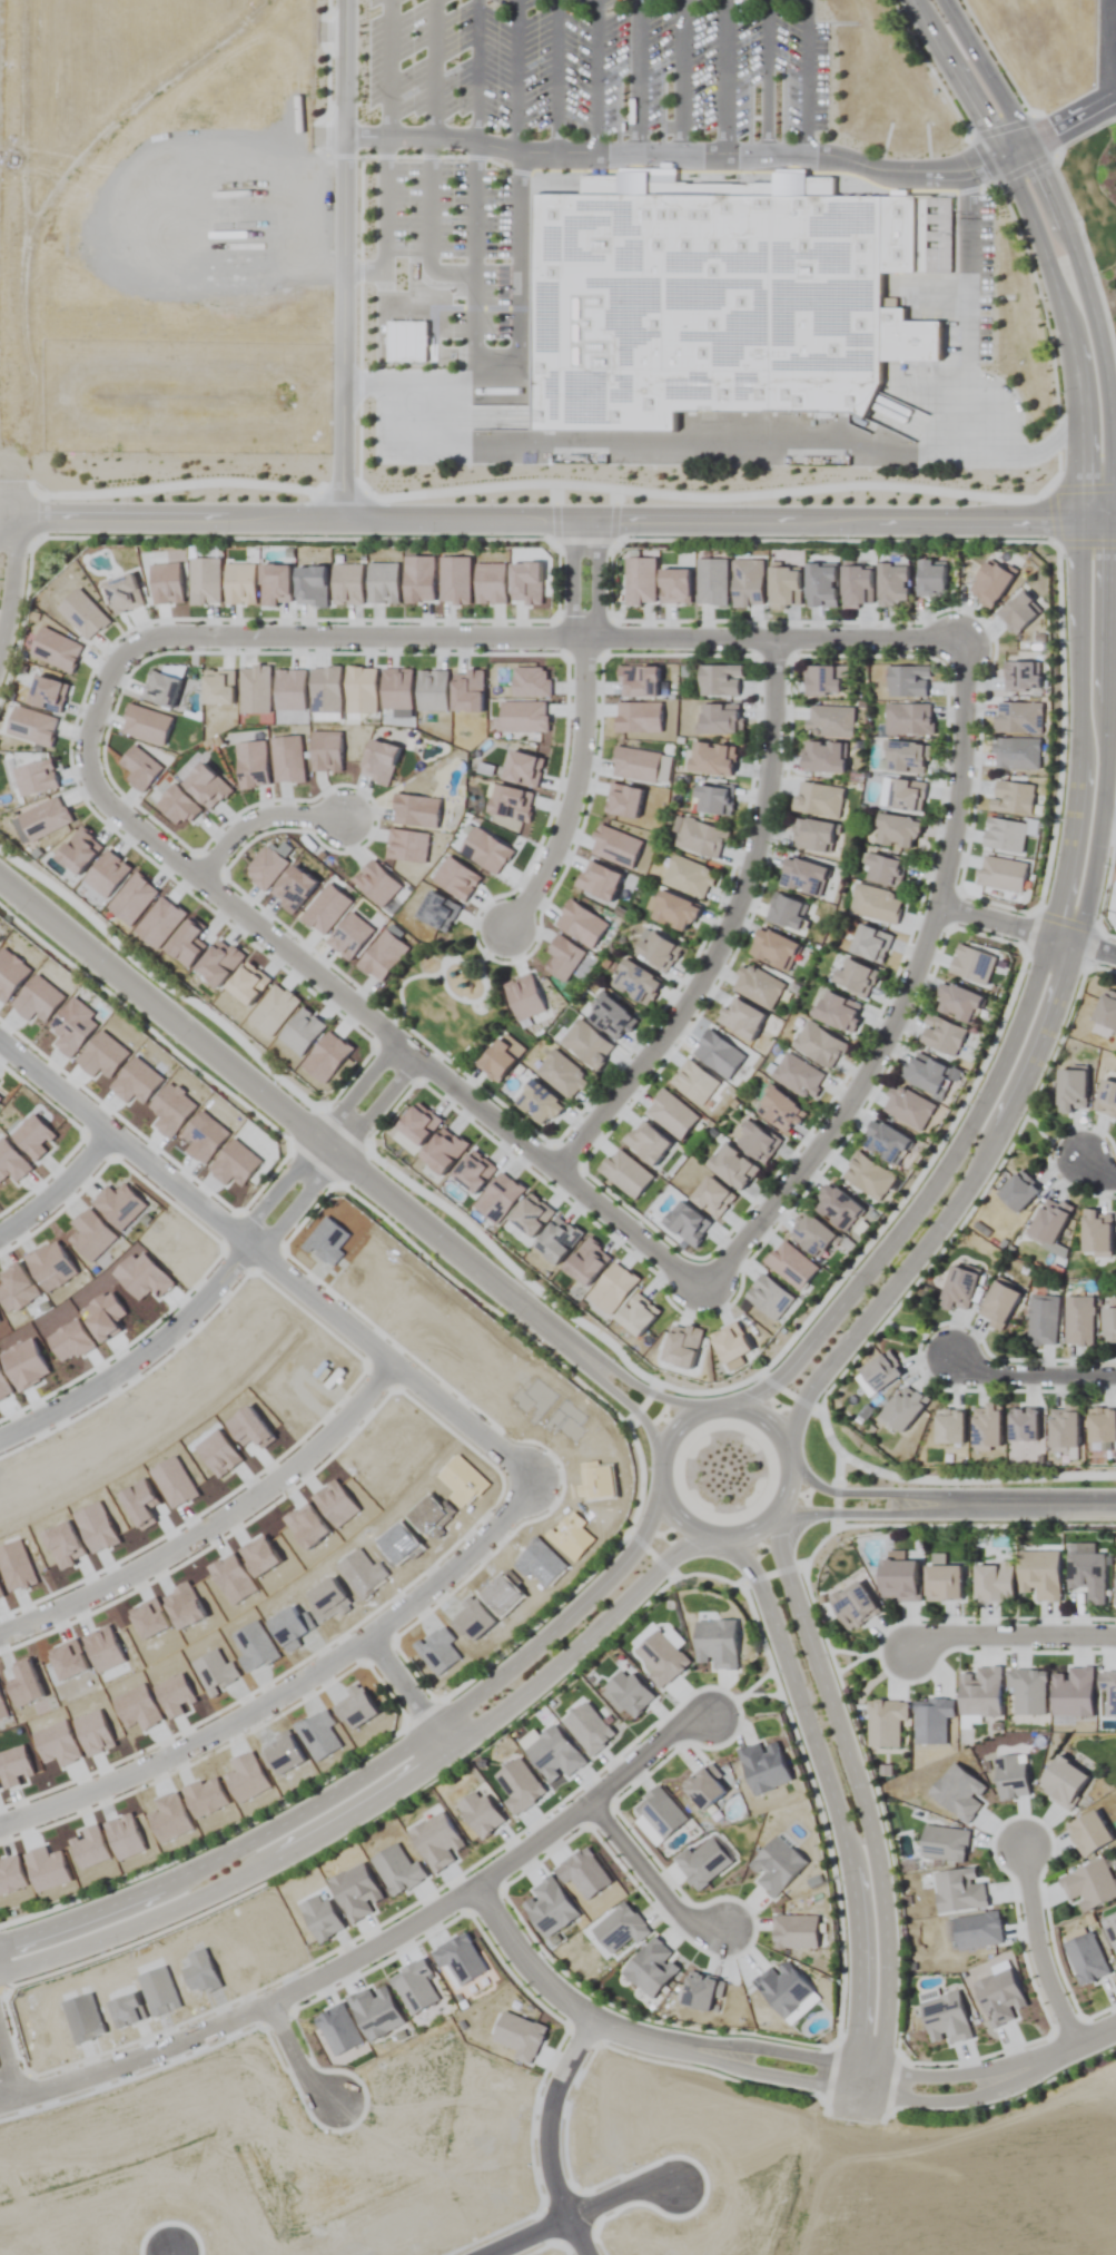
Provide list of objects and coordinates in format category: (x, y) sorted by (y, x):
road: (478, 68)
road: (517, 75)
road: (556, 75)
road: (597, 75)
road: (639, 76)
road: (685, 76)
road: (727, 76)
road: (766, 76)
road: (810, 76)
parking lot: (651, 82)
road: (1113, 100)
road: (1067, 122)
traffic signals: (1018, 149)
road: (684, 151)
road: (433, 175)
road: (970, 218)
road: (475, 244)
road: (344, 259)
building: (373, 265)
building: (722, 295)
road: (386, 342)
road: (969, 361)
road: (471, 384)
road: (411, 400)
road: (1109, 440)
road: (695, 443)
road: (1103, 452)
road: (1014, 453)
road: (16, 502)
road: (8, 520)
road: (566, 521)
building: (931, 579)
road: (572, 581)
road: (600, 581)
road: (13, 583)
building: (748, 584)
building: (989, 584)
building: (820, 585)
building: (892, 585)
building: (783, 587)
building: (856, 587)
building: (1019, 613)
road: (555, 639)
building: (1023, 677)
building: (719, 681)
building: (822, 681)
building: (907, 682)
building: (1018, 718)
building: (720, 720)
building: (909, 720)
building: (830, 722)
building: (1016, 754)
building: (823, 758)
building: (906, 758)
building: (712, 759)
road: (573, 794)
building: (1013, 798)
building: (712, 799)
building: (818, 800)
road: (257, 819)
building: (897, 831)
building: (813, 836)
building: (701, 838)
building: (883, 869)
building: (688, 876)
building: (802, 877)
building: (876, 905)
building: (673, 912)
building: (786, 913)
road: (724, 926)
road: (1027, 932)
building: (656, 949)
building: (773, 951)
building: (855, 978)
building: (635, 983)
building: (758, 987)
road: (332, 988)
road: (905, 995)
building: (956, 1002)
building: (1106, 1011)
building: (838, 1012)
building: (610, 1017)
building: (941, 1035)
building: (586, 1045)
building: (819, 1046)
building: (496, 1060)
building: (564, 1070)
building: (925, 1073)
building: (798, 1076)
building: (1070, 1090)
building: (541, 1097)
building: (1106, 1099)
building: (908, 1107)
building: (779, 1111)
road: (285, 1119)
crop: (557, 1127)
road: (314, 1141)
building: (883, 1141)
road: (113, 1145)
road: (336, 1160)
building: (732, 1168)
road: (1098, 1169)
building: (867, 1176)
road: (57, 1191)
building: (1017, 1191)
road: (922, 1198)
building: (836, 1207)
road: (951, 1208)
building: (1048, 1220)
building: (1096, 1232)
building: (811, 1234)
building: (958, 1287)
building: (998, 1304)
building: (1043, 1320)
building: (1078, 1321)
building: (1109, 1325)
road: (570, 1353)
road: (377, 1359)
road: (134, 1360)
road: (1030, 1376)
building: (903, 1408)
building: (1102, 1426)
building: (986, 1428)
building: (1064, 1428)
road: (661, 1442)
road: (875, 1499)
road: (1044, 1509)
road: (871, 1518)
road: (211, 1527)
building: (1039, 1575)
building: (1087, 1575)
building: (898, 1581)
building: (942, 1583)
building: (992, 1583)
building: (1115, 1597)
building: (852, 1605)
road: (1009, 1636)
road: (292, 1687)
road: (405, 1698)
road: (369, 1770)
building: (1063, 1782)
road: (831, 1793)
road: (861, 1795)
road: (378, 1800)
building: (1088, 1833)
road: (500, 1870)
road: (651, 1878)
building: (1089, 1885)
road: (1037, 1949)
road: (768, 2062)
road: (135, 2064)
road: (290, 2064)
road: (6, 2082)
road: (543, 2138)
road: (582, 2214)

